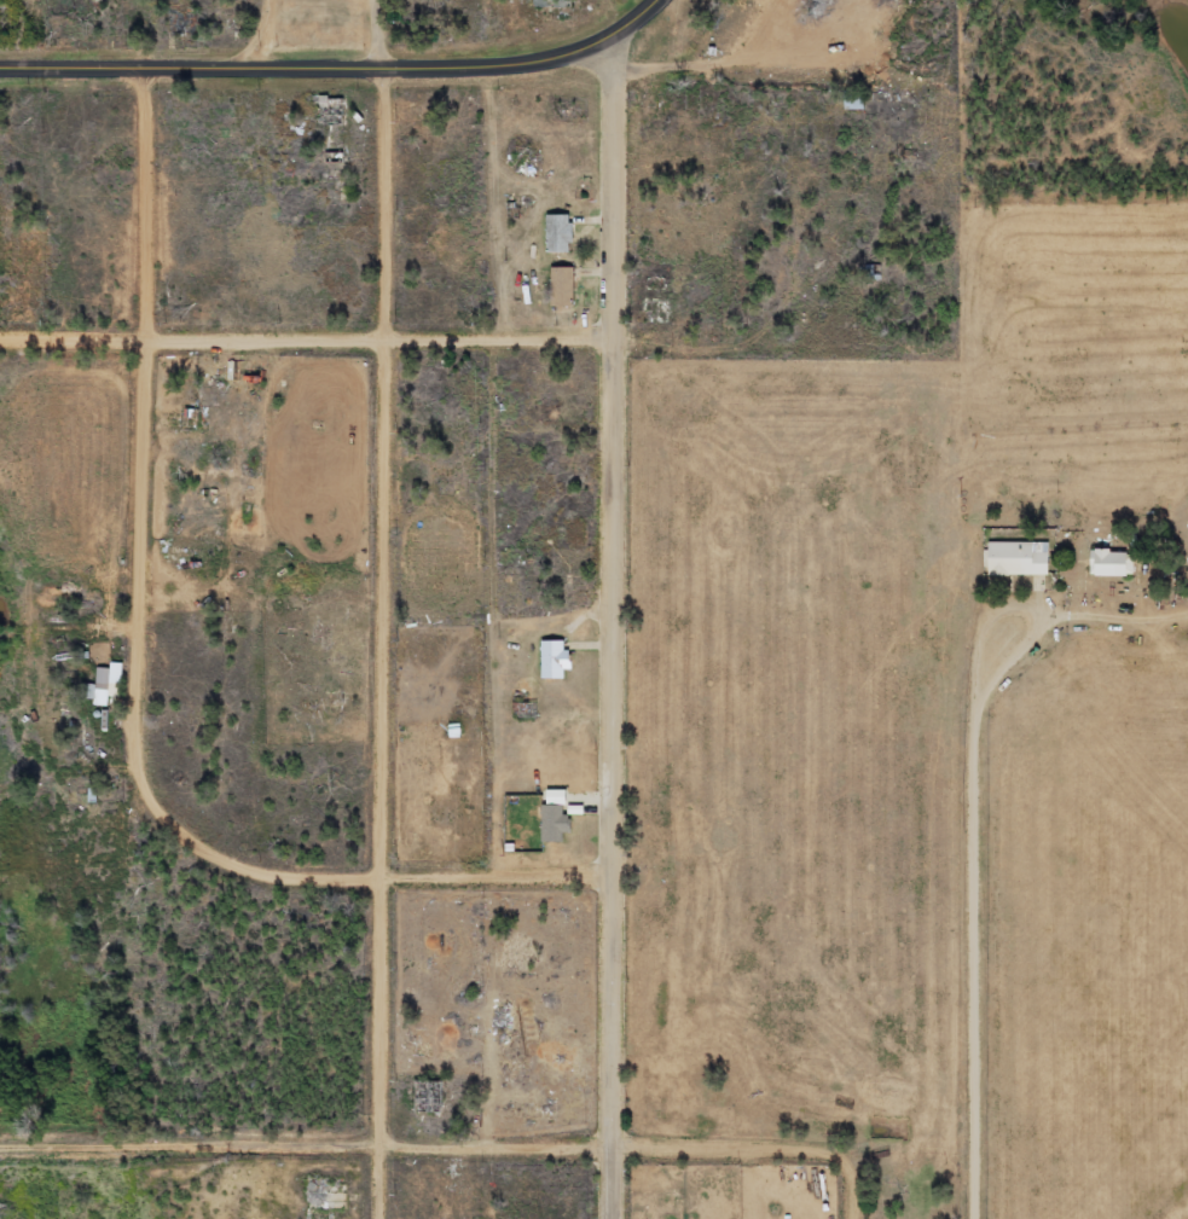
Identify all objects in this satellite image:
building: (554, 4)
road: (633, 22)
road: (305, 68)
building: (560, 233)
building: (563, 286)
road: (389, 342)
road: (147, 465)
building: (1113, 563)
road: (387, 609)
road: (620, 609)
road: (822, 637)
building: (555, 660)
building: (106, 685)
building: (555, 824)
road: (985, 857)
road: (404, 881)
road: (413, 1148)
road: (856, 1179)

